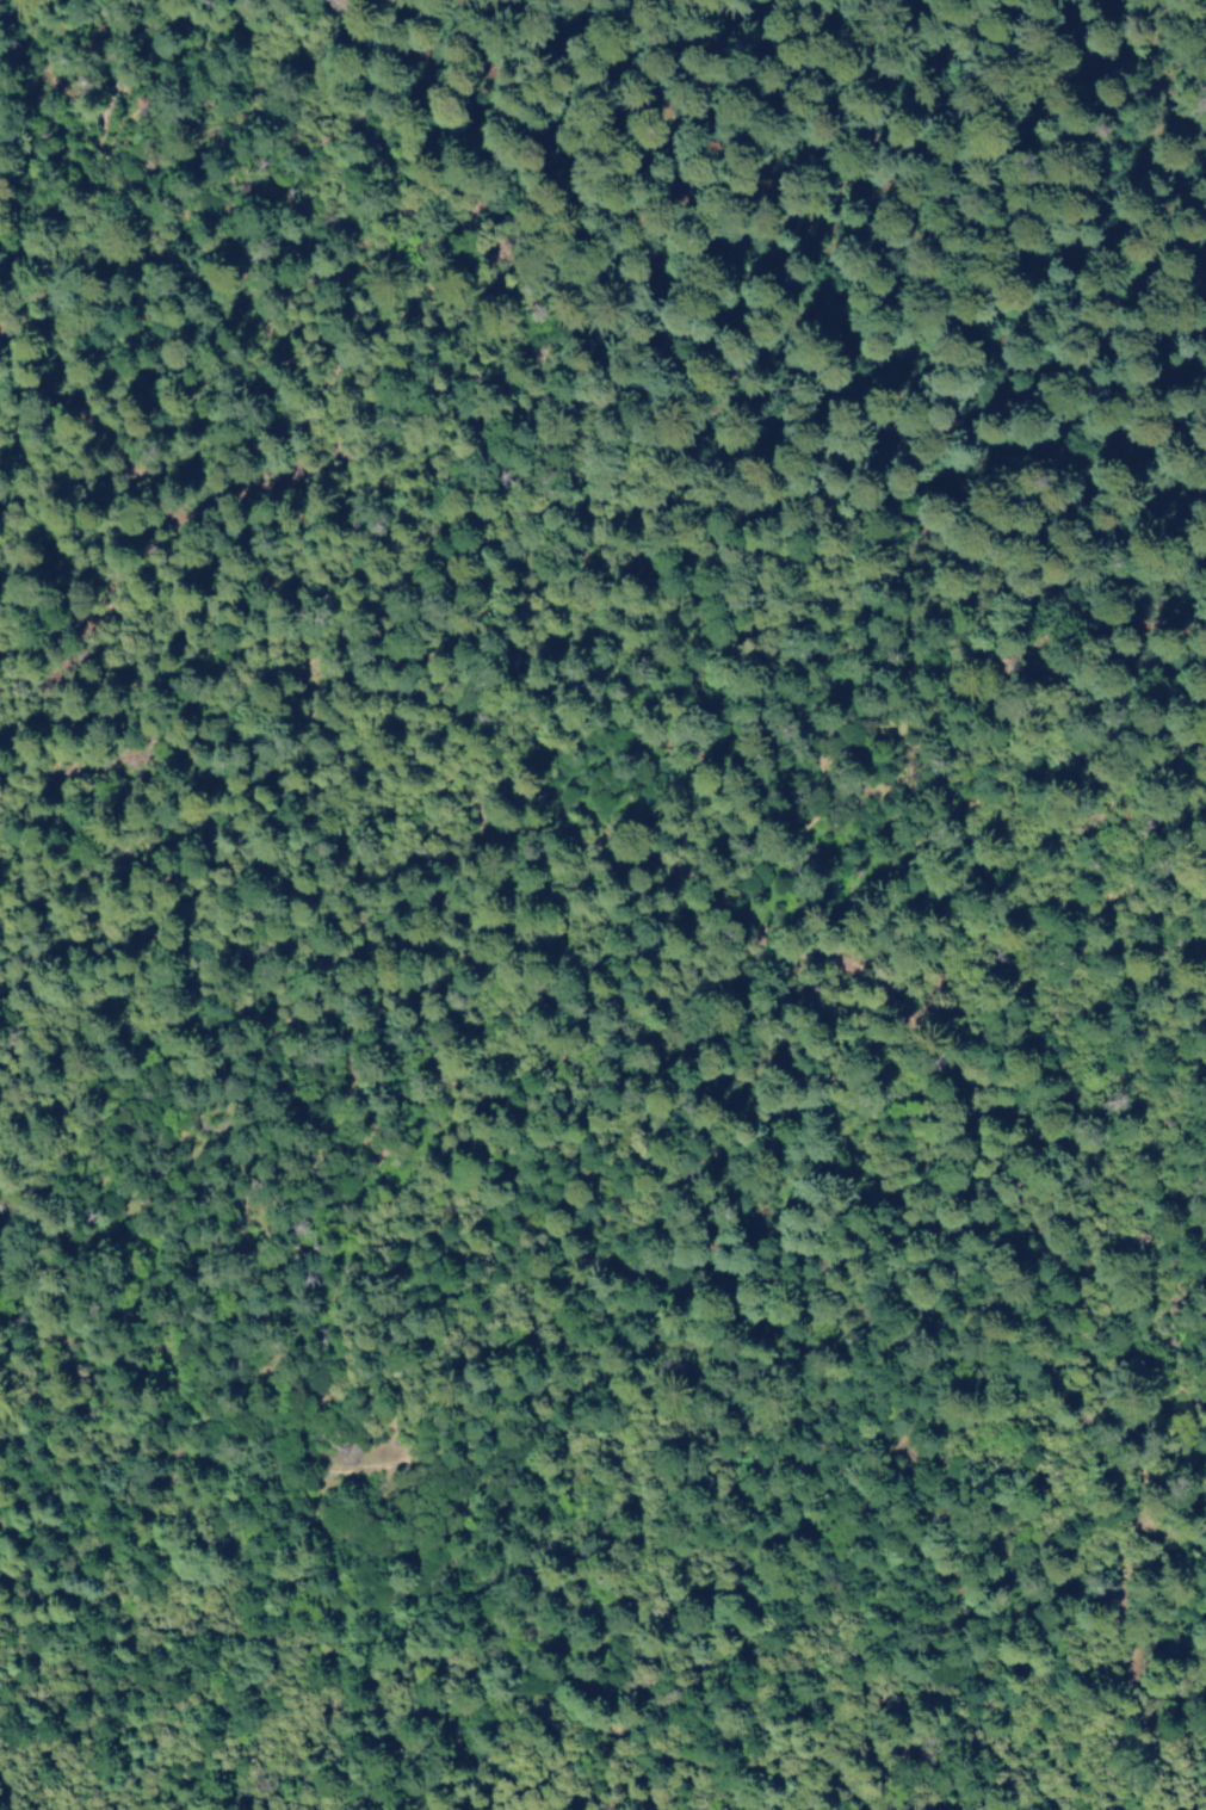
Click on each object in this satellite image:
road: (98, 124)
road: (815, 276)
road: (787, 939)

